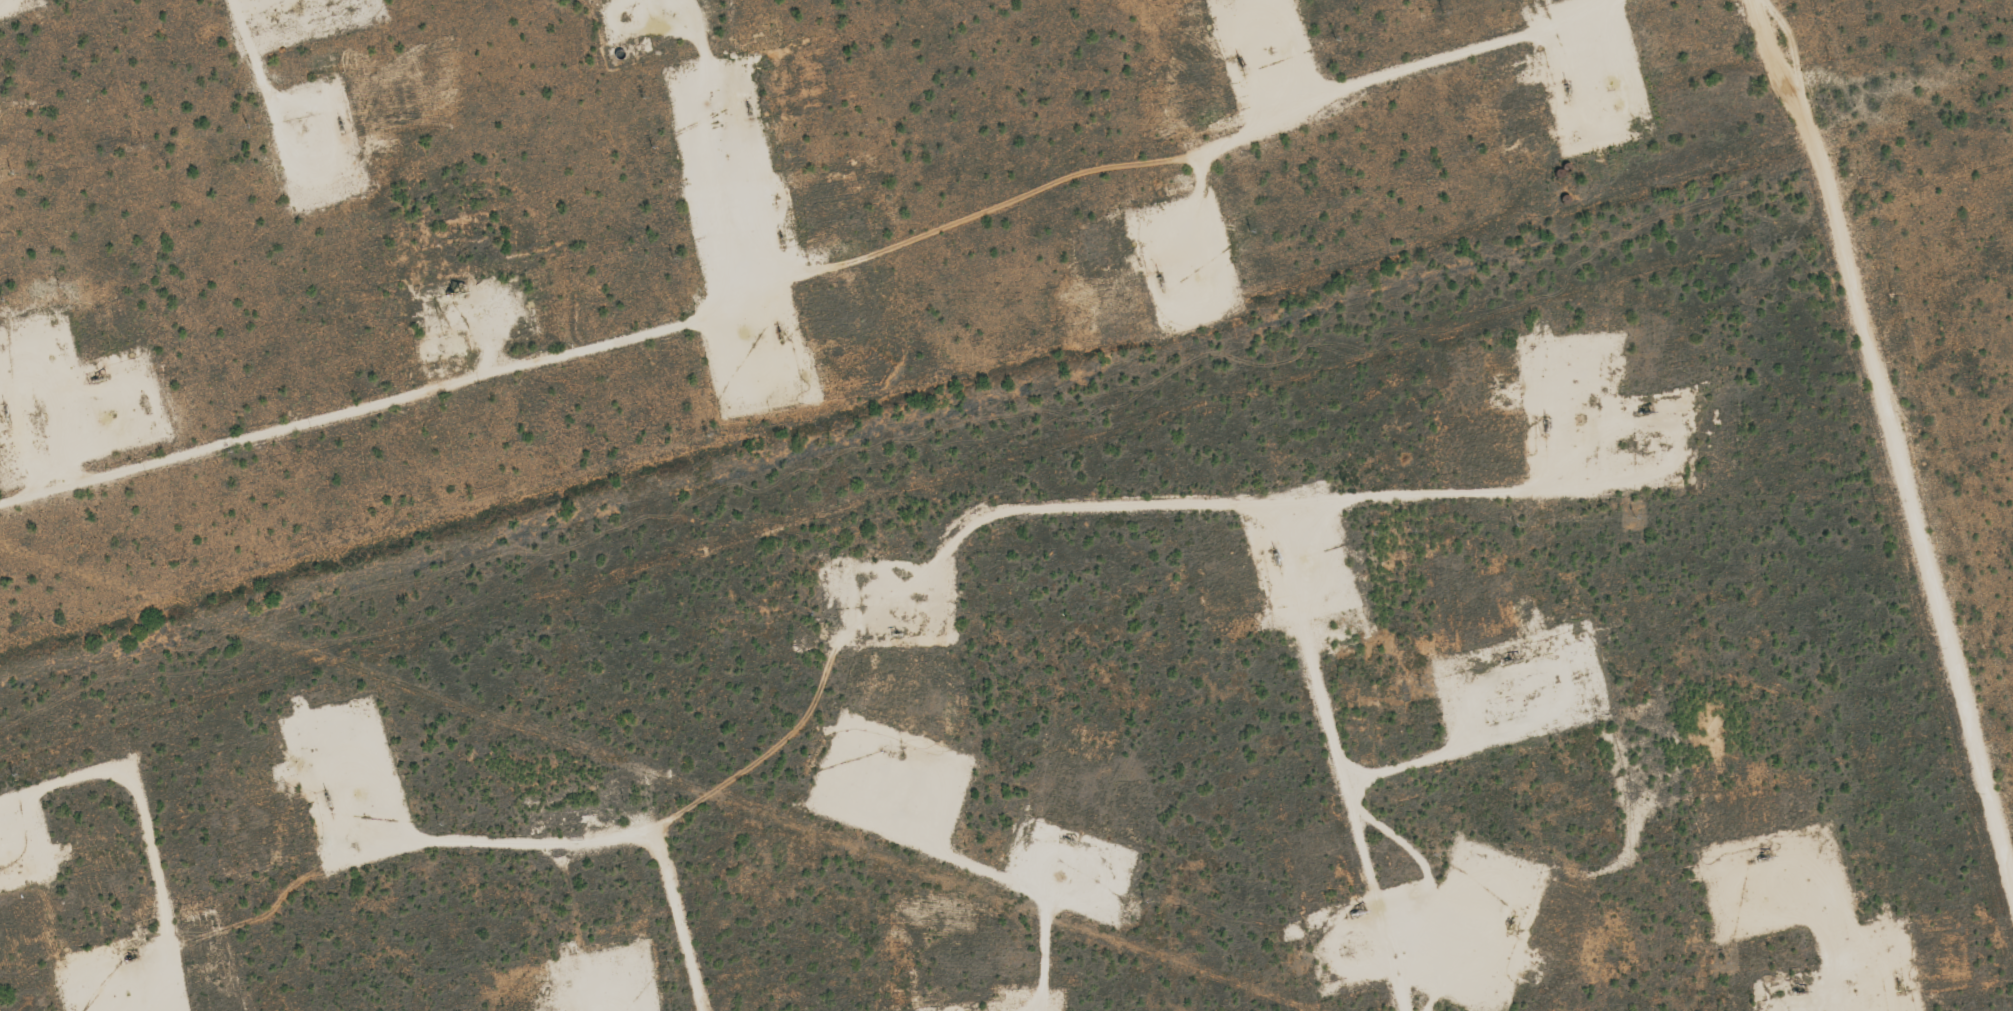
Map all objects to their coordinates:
road: (1896, 433)

